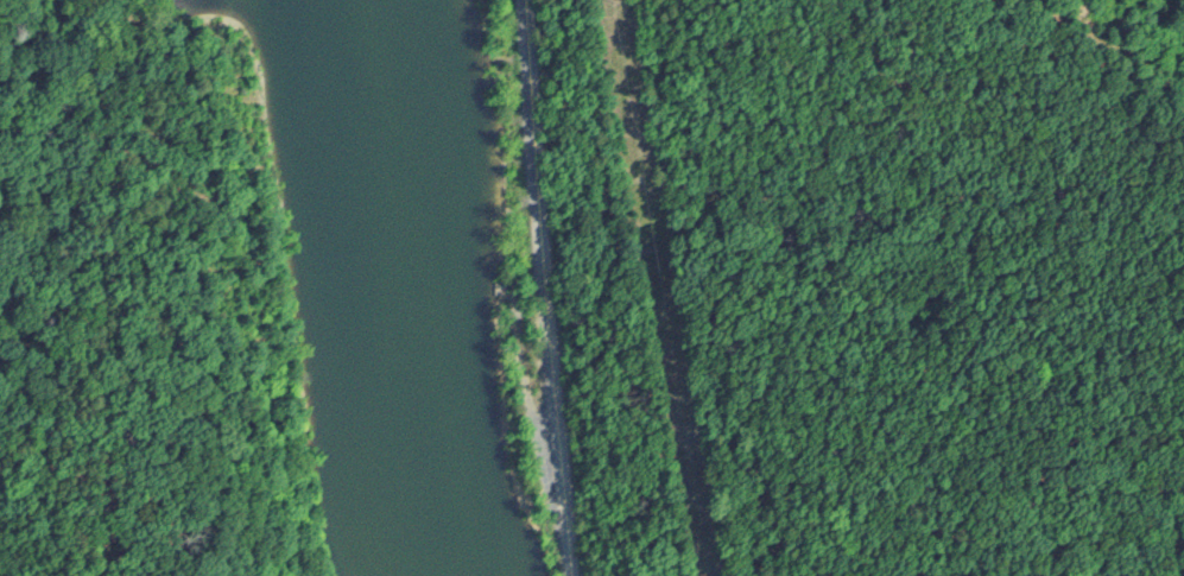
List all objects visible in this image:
road: (542, 287)
park: (268, 291)
park: (859, 299)

